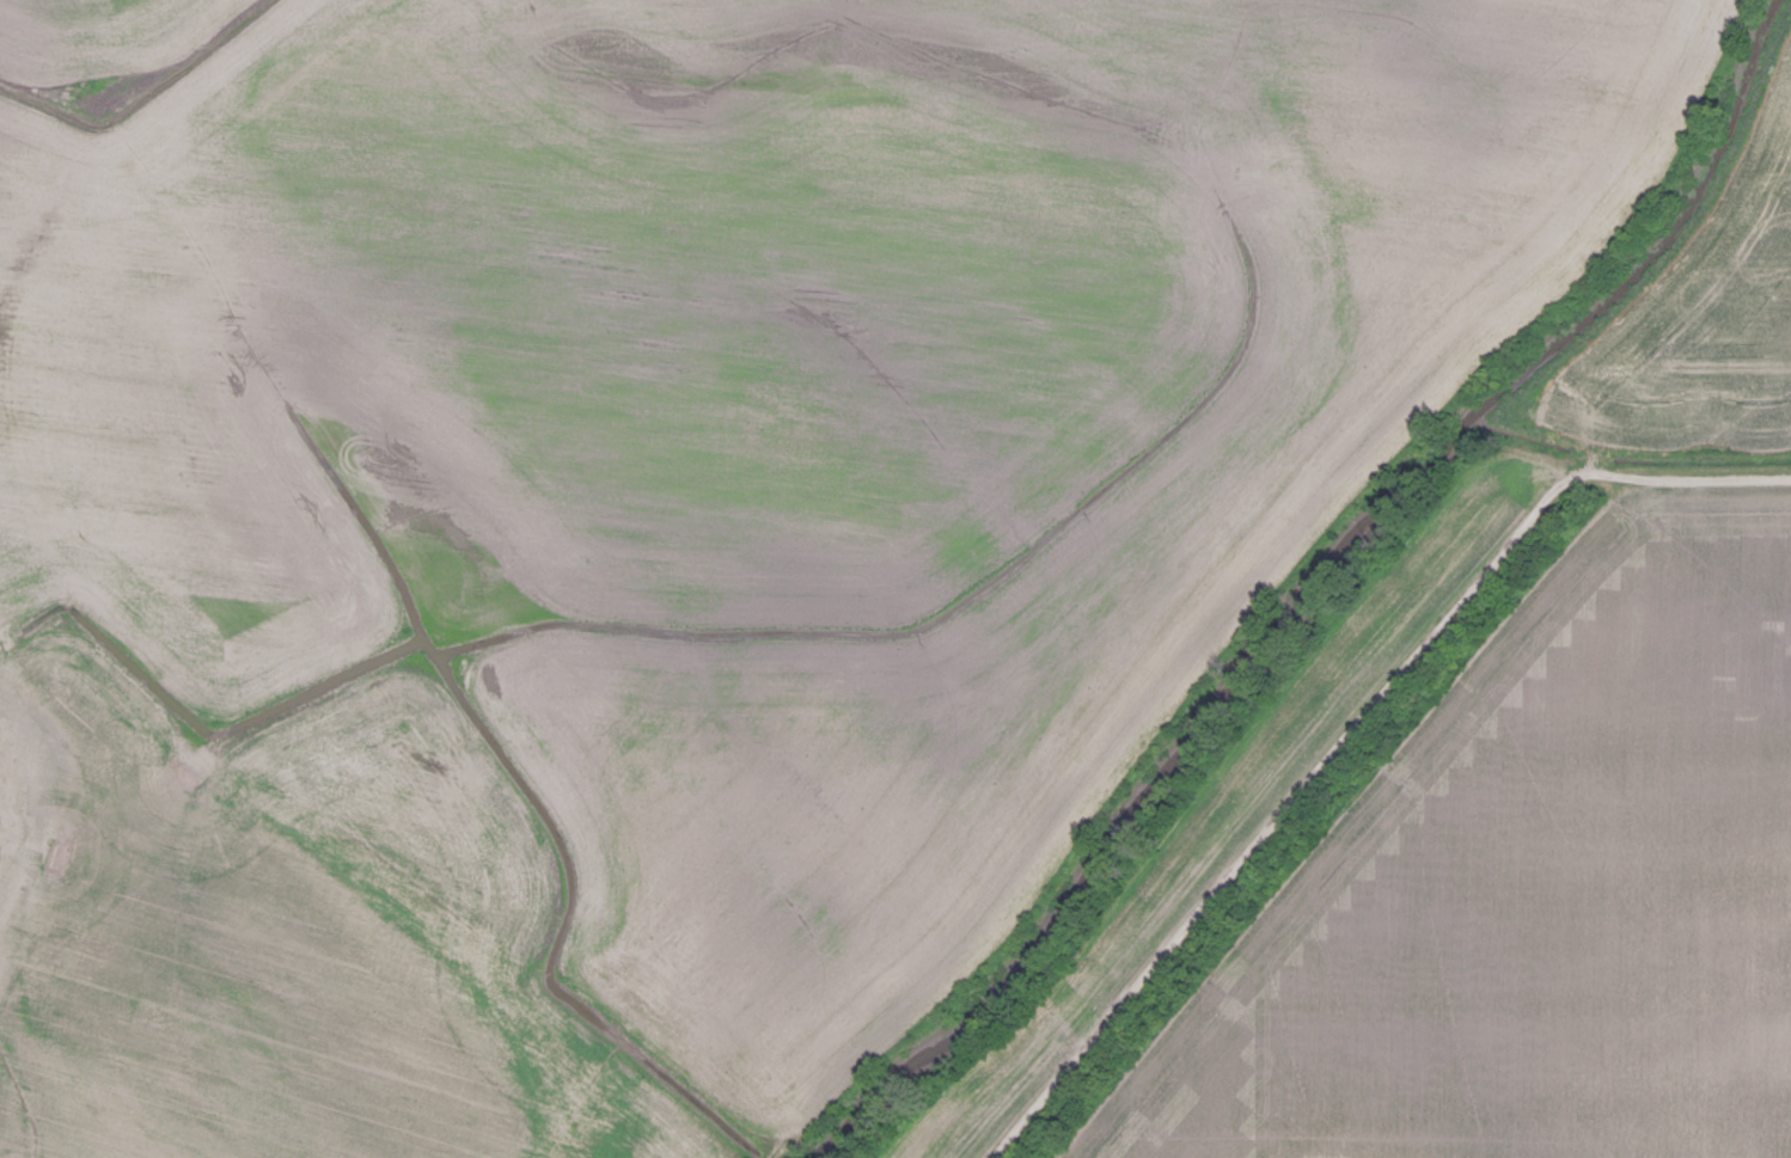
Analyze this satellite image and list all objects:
road: (1297, 697)

